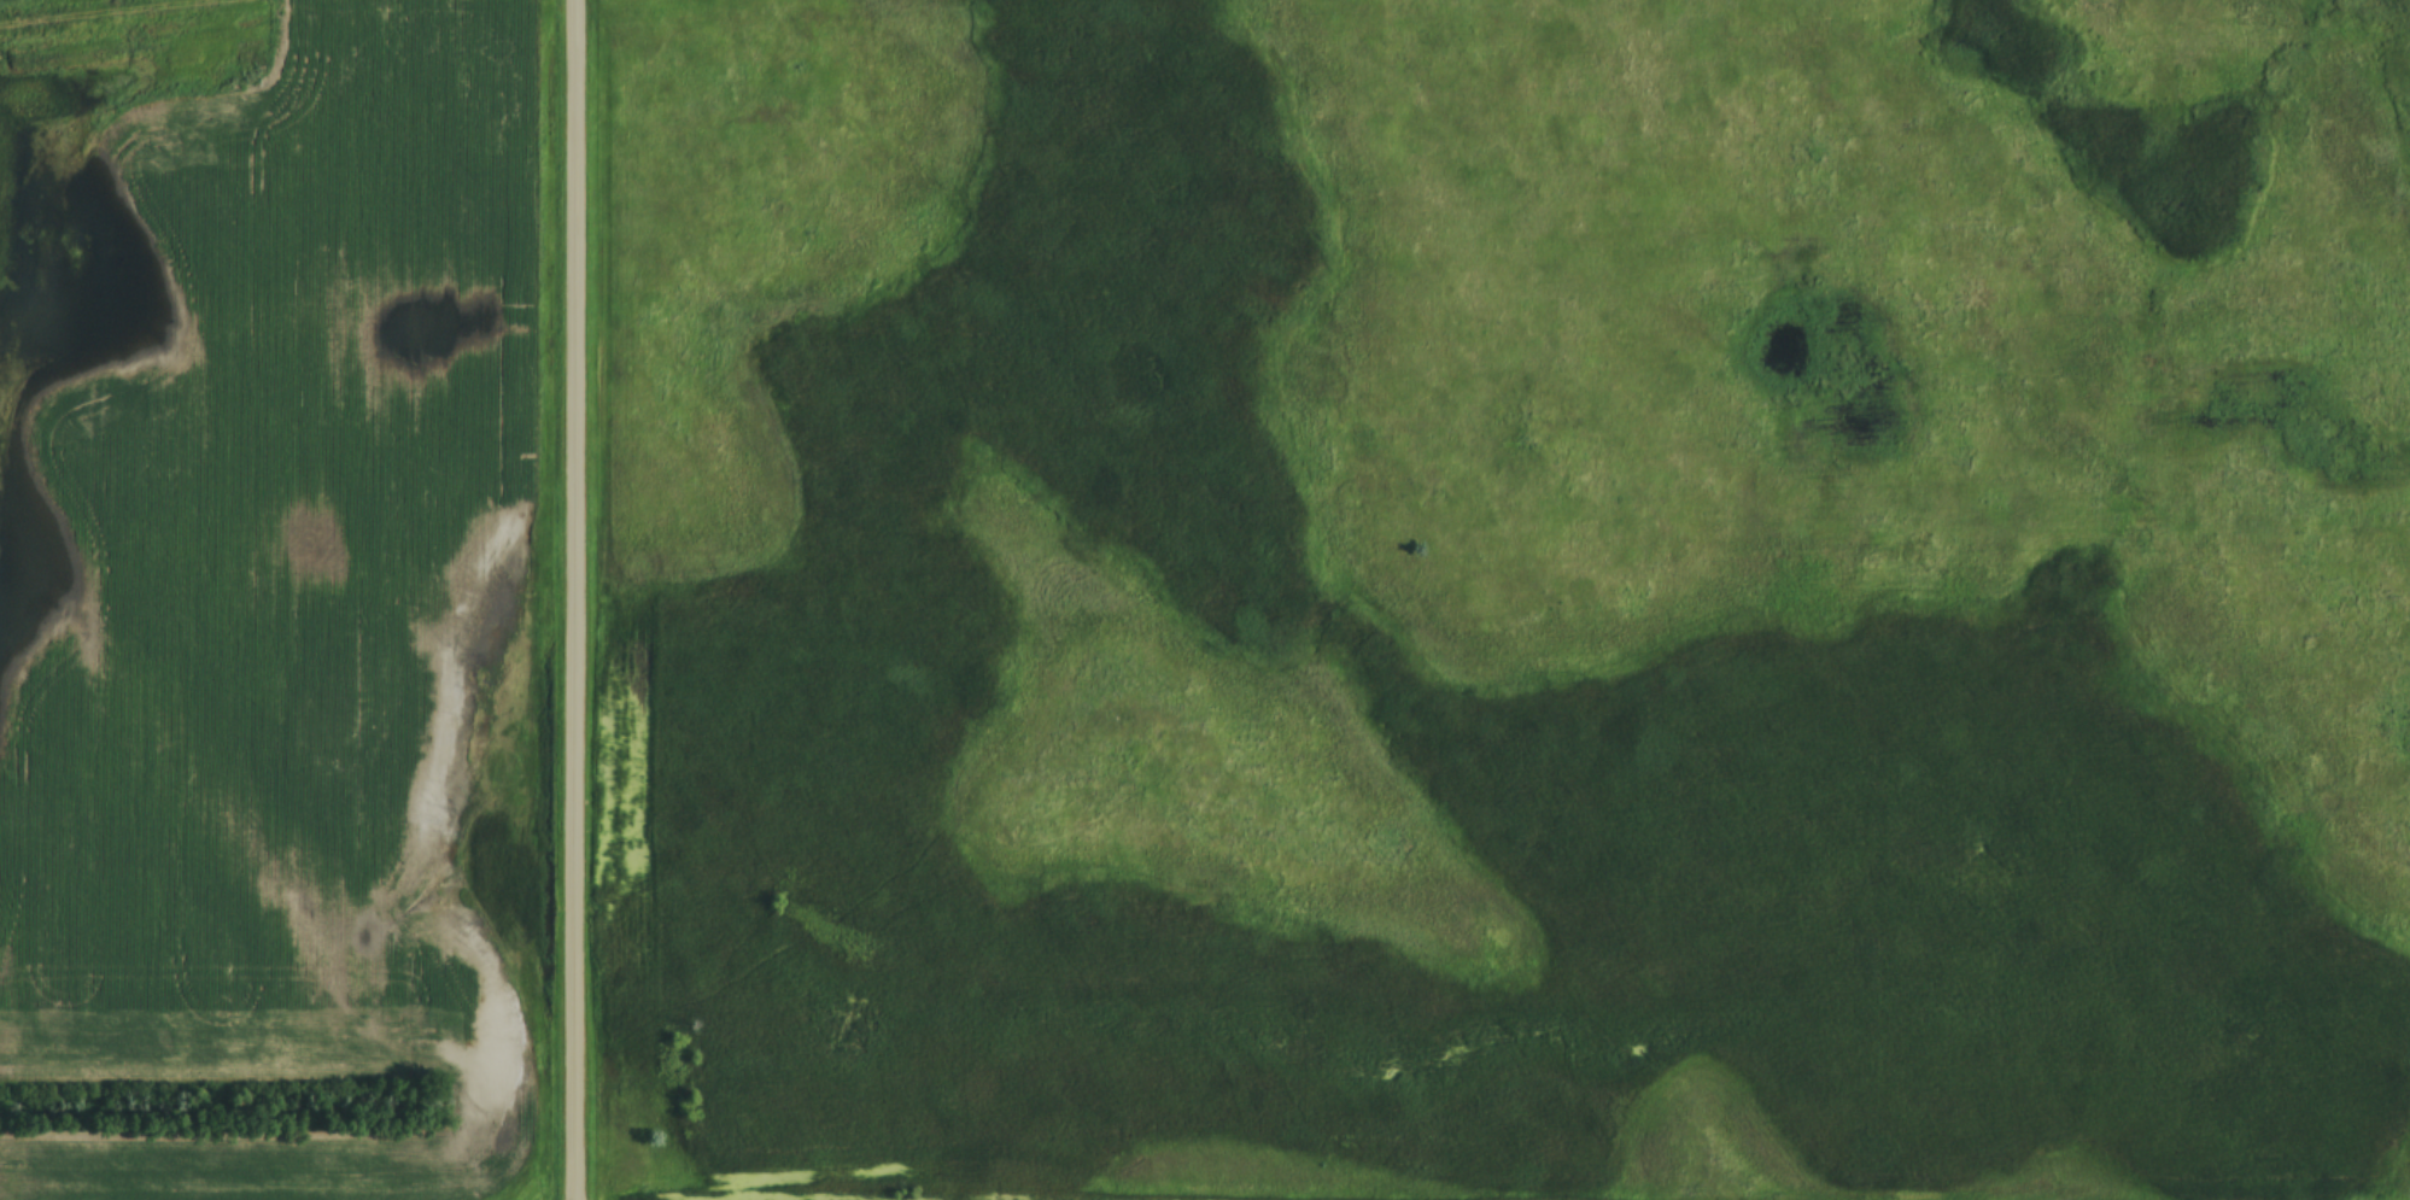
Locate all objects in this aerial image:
road: (577, 599)

